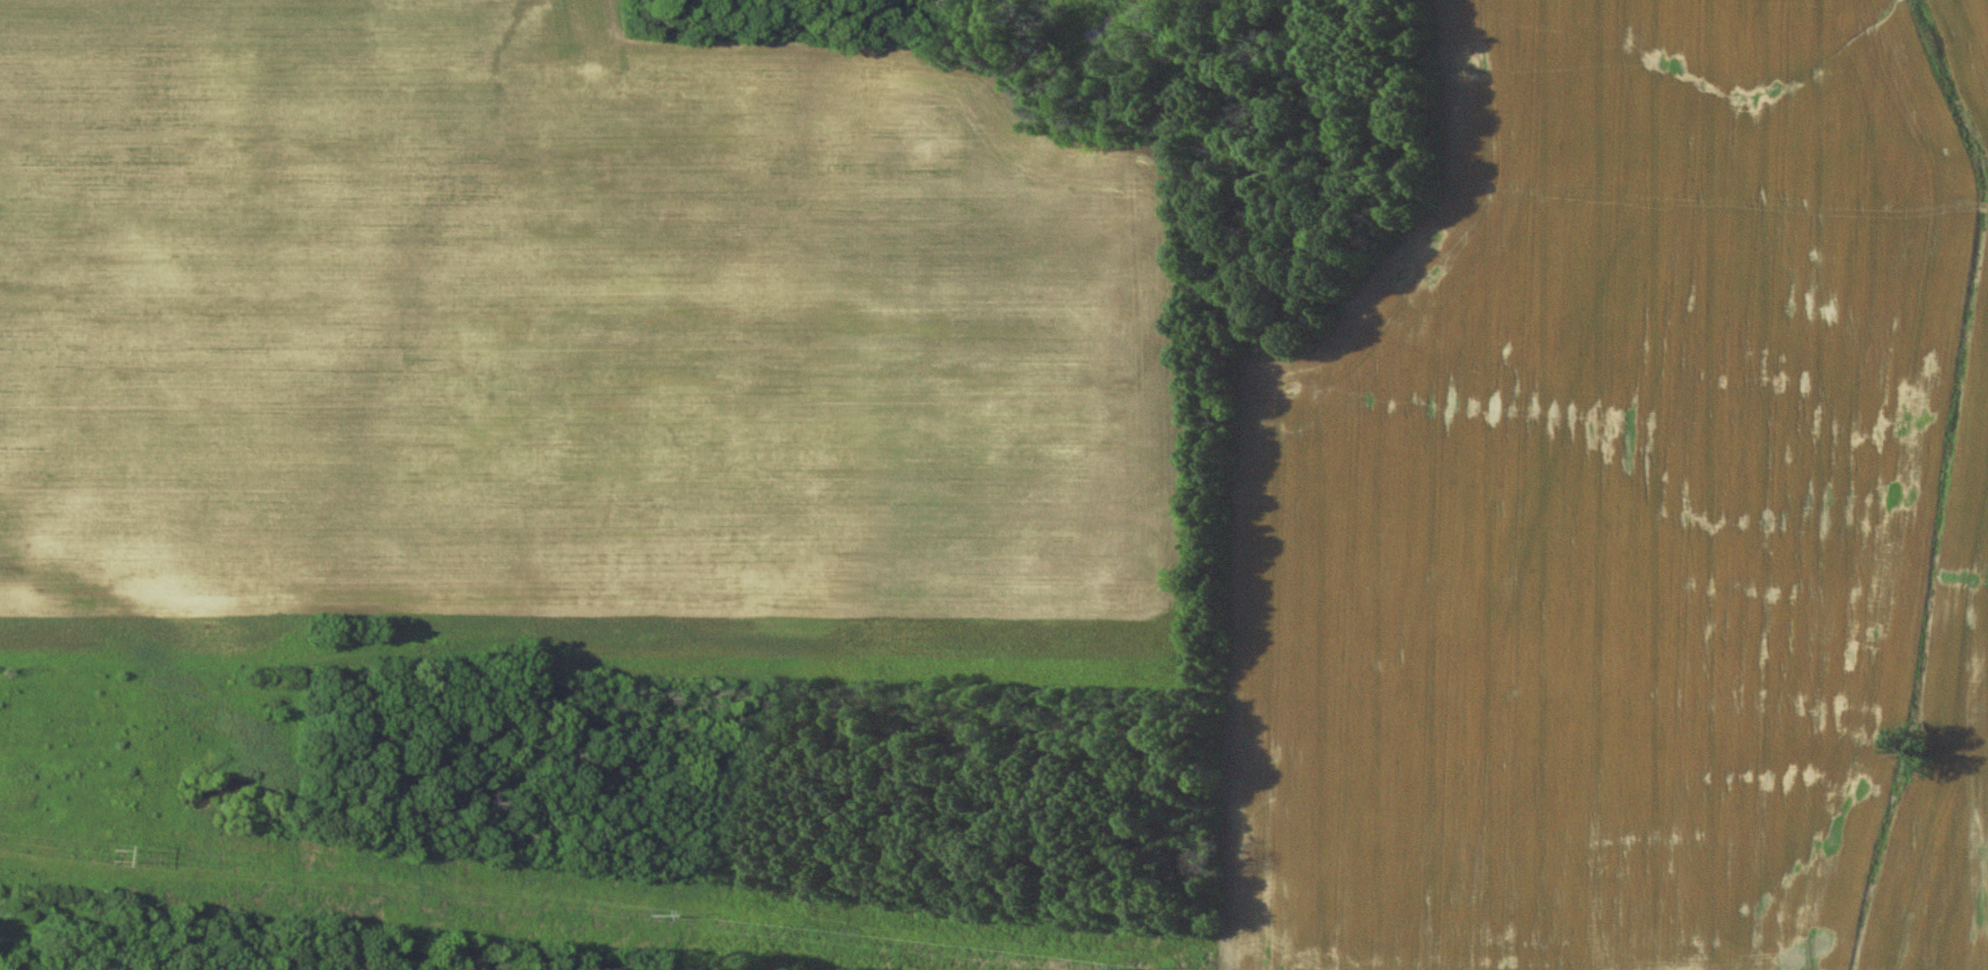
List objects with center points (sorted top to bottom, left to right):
power tower: (124, 855)
power tower: (662, 916)

